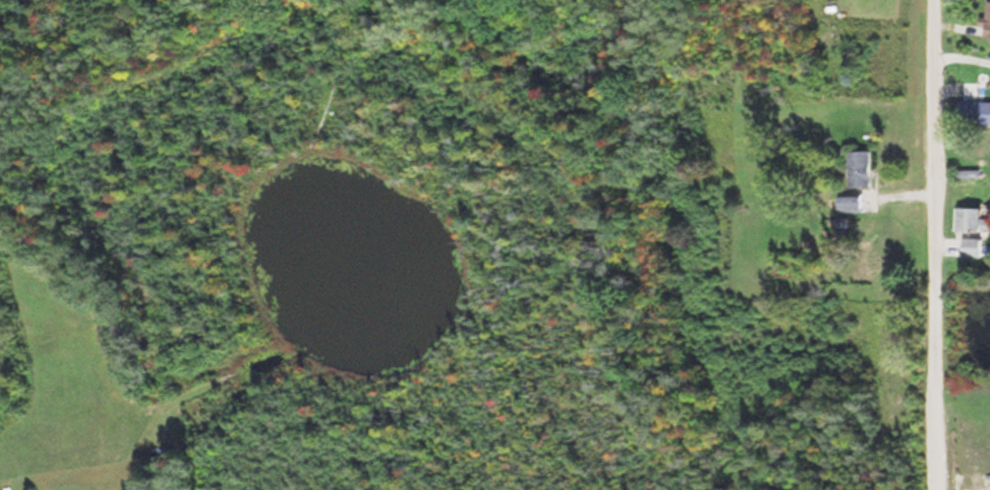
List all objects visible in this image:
building: (988, 24)
building: (974, 110)
building: (863, 167)
building: (854, 202)
building: (969, 218)
road: (941, 245)
building: (971, 246)

